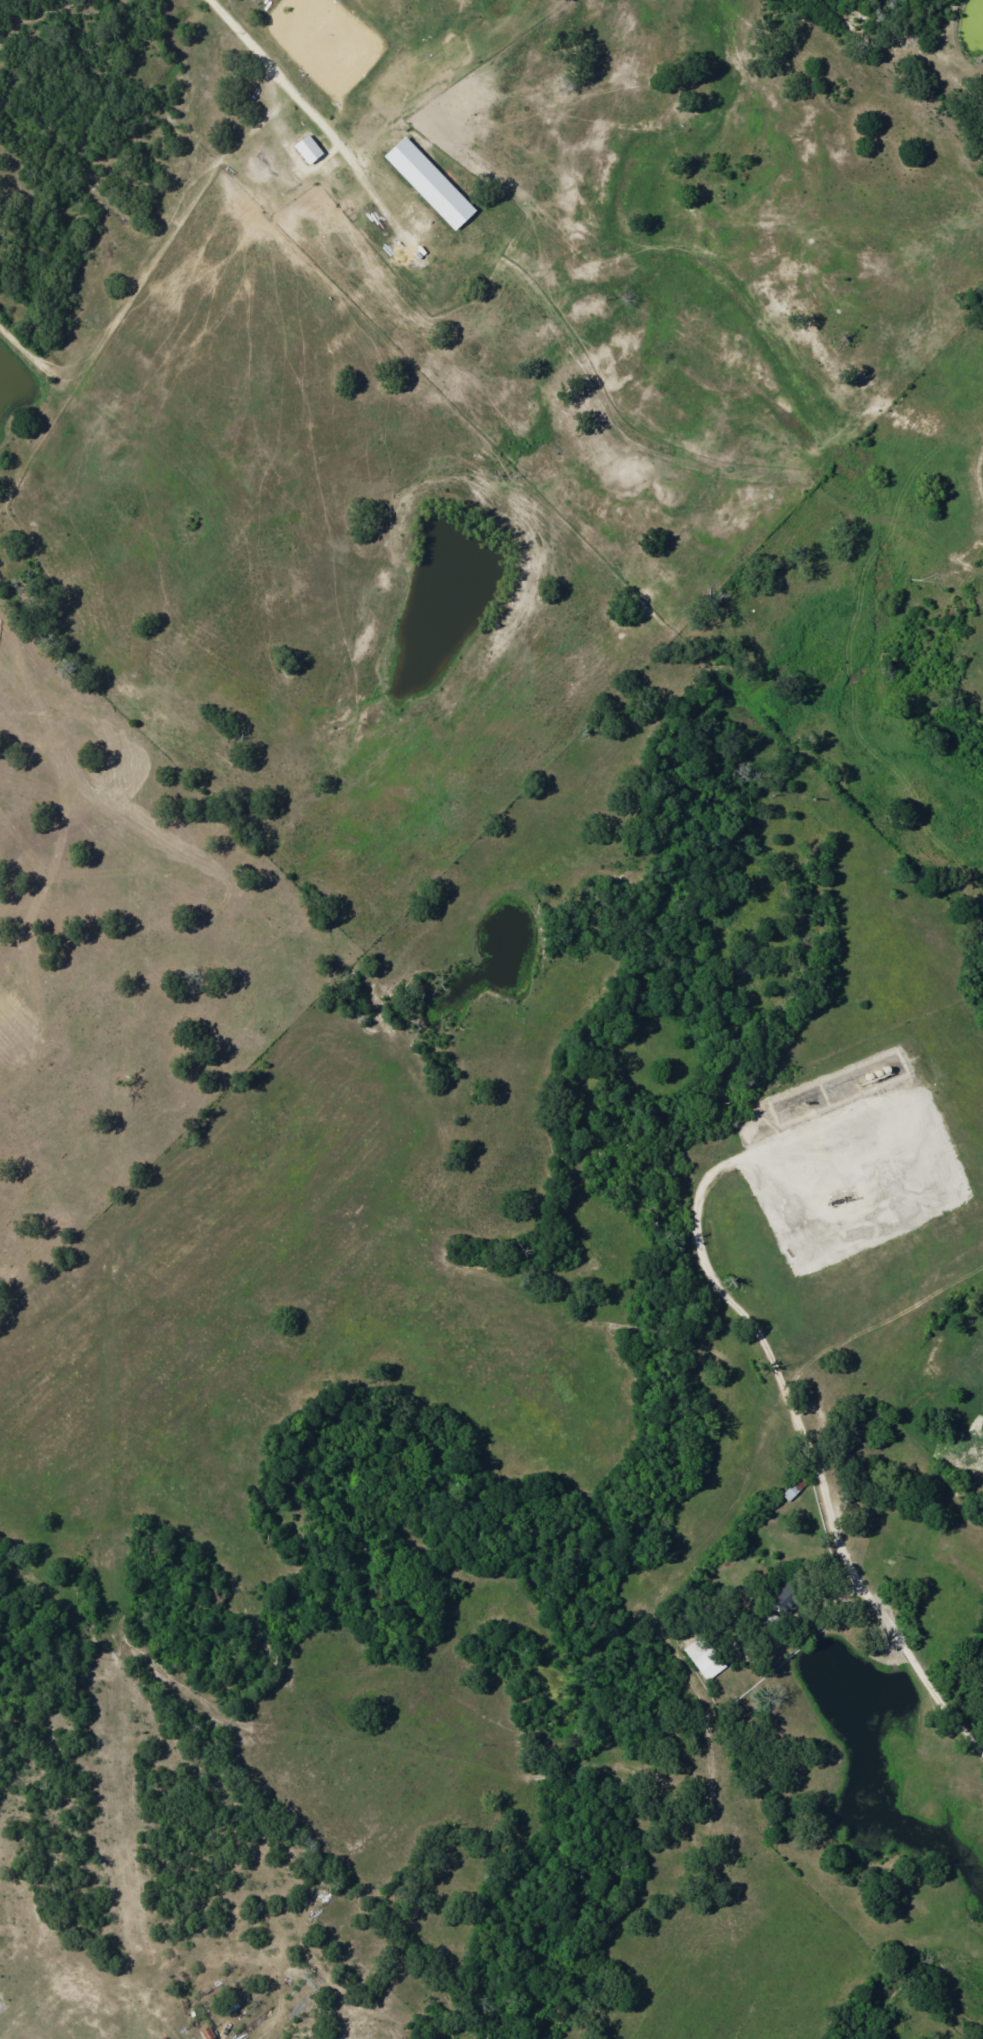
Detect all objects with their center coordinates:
building: (311, 151)
building: (433, 185)
petroleum well: (837, 1201)
road: (818, 1533)

